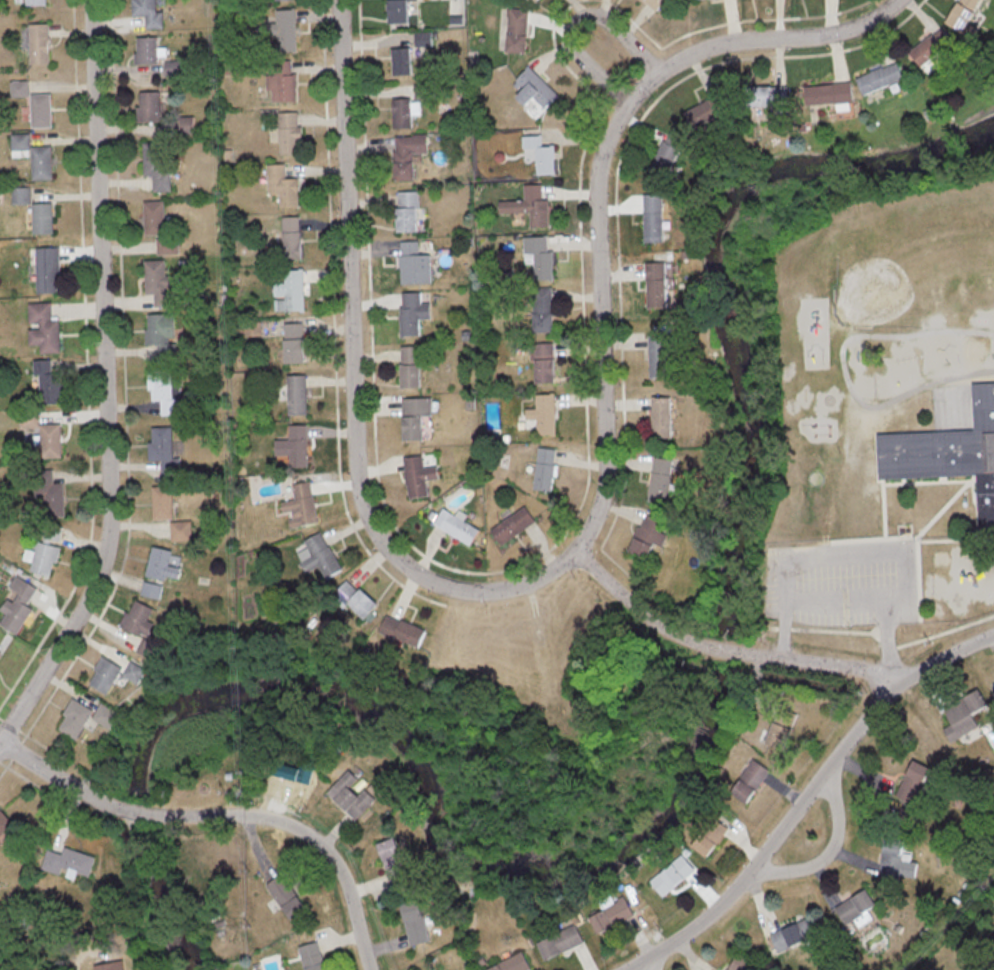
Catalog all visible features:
building: (35, 1)
building: (531, 1)
building: (653, 3)
building: (399, 11)
building: (148, 12)
road: (574, 22)
building: (285, 29)
building: (517, 29)
building: (36, 41)
building: (146, 49)
building: (402, 60)
building: (173, 65)
building: (885, 78)
building: (282, 86)
building: (422, 90)
building: (533, 90)
building: (829, 93)
building: (148, 105)
building: (40, 109)
building: (706, 110)
building: (405, 111)
building: (287, 132)
building: (19, 142)
building: (407, 153)
building: (541, 153)
building: (668, 158)
building: (41, 161)
building: (156, 165)
road: (597, 178)
building: (282, 185)
building: (21, 195)
building: (530, 205)
building: (407, 210)
building: (42, 217)
building: (153, 217)
building: (654, 217)
building: (291, 236)
building: (167, 245)
building: (539, 256)
building: (414, 263)
building: (47, 268)
building: (158, 282)
building: (657, 284)
building: (290, 290)
building: (542, 309)
building: (412, 312)
building: (44, 326)
building: (161, 334)
building: (294, 342)
building: (659, 355)
building: (544, 362)
building: (410, 366)
building: (49, 383)
road: (356, 383)
road: (106, 384)
building: (166, 391)
building: (297, 394)
building: (543, 414)
building: (416, 416)
building: (662, 416)
building: (50, 439)
building: (295, 445)
building: (163, 449)
building: (948, 454)
building: (544, 468)
building: (419, 475)
building: (661, 479)
building: (52, 495)
building: (163, 501)
building: (302, 504)
building: (456, 525)
building: (512, 525)
building: (182, 529)
building: (52, 533)
building: (648, 535)
building: (319, 554)
building: (45, 557)
building: (162, 563)
building: (152, 589)
road: (842, 599)
building: (363, 602)
road: (629, 603)
building: (17, 604)
building: (139, 618)
building: (402, 630)
building: (155, 634)
building: (149, 648)
road: (723, 651)
building: (0, 652)
road: (829, 667)
building: (115, 673)
building: (106, 714)
building: (76, 718)
building: (777, 734)
road: (52, 777)
building: (751, 779)
building: (351, 793)
road: (806, 799)
road: (129, 810)
building: (4, 821)
road: (303, 832)
building: (712, 835)
road: (828, 850)
building: (69, 860)
building: (395, 862)
building: (672, 874)
building: (286, 895)
building: (858, 906)
building: (611, 915)
building: (414, 923)
building: (794, 935)
building: (560, 941)
road: (79, 955)
building: (312, 956)
building: (511, 963)
road: (651, 963)
building: (739, 963)
building: (111, 965)

